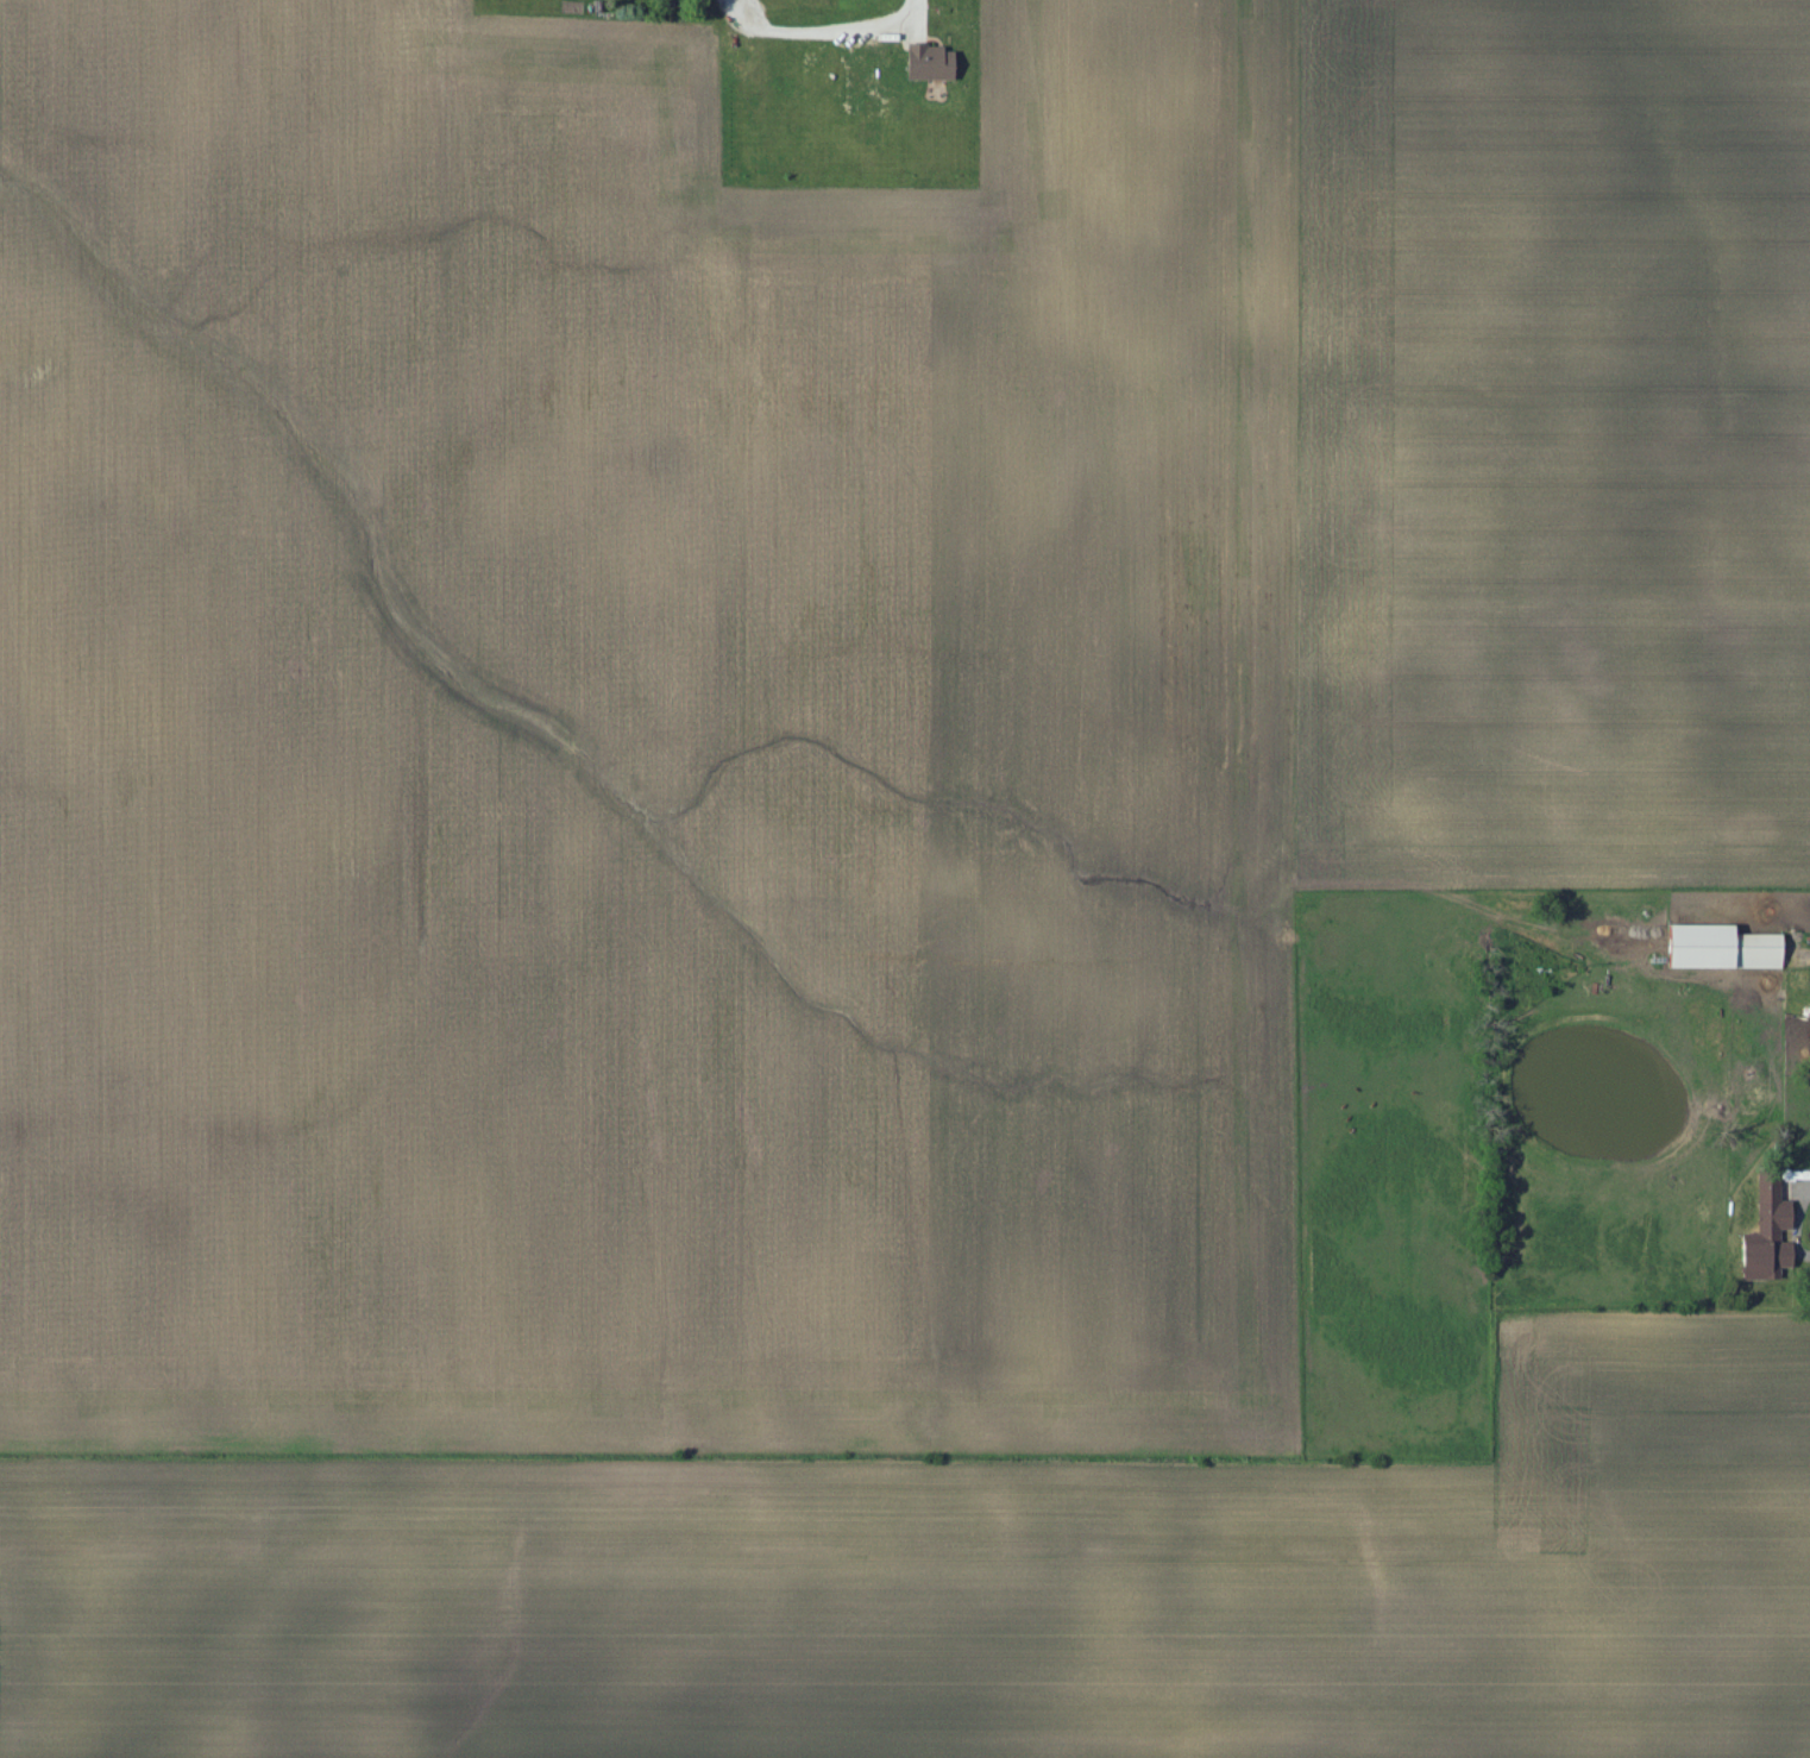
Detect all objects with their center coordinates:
road: (828, 34)
building: (1724, 949)
road: (1795, 1219)

